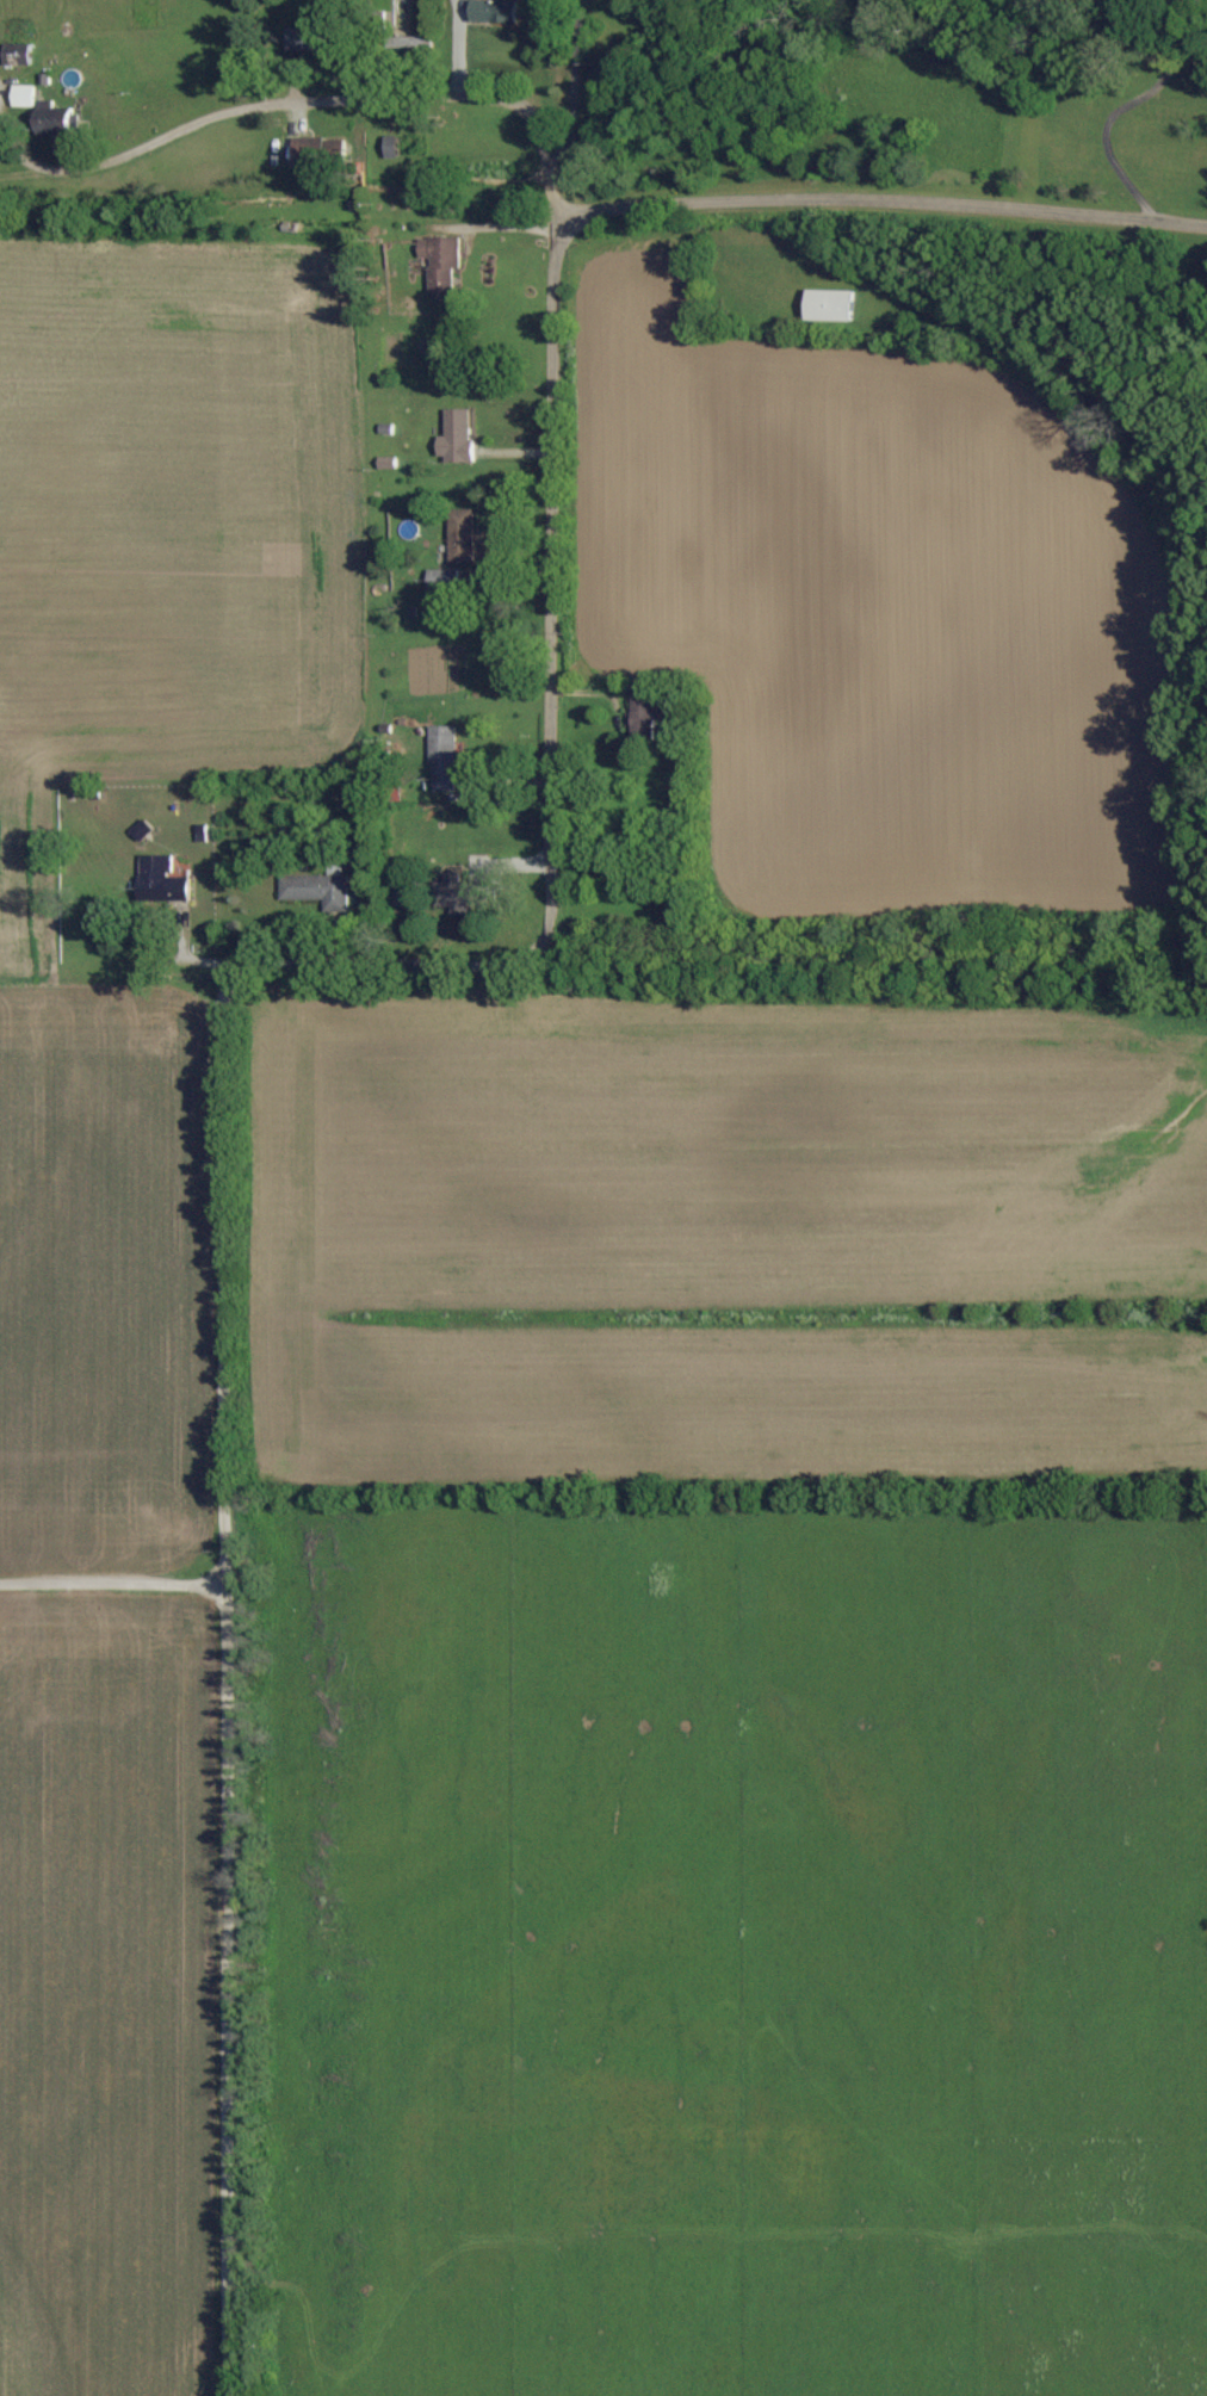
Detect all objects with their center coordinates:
building: (491, 11)
building: (304, 39)
building: (16, 55)
road: (574, 76)
building: (21, 97)
road: (277, 105)
building: (52, 122)
building: (307, 150)
road: (552, 169)
road: (885, 208)
building: (440, 265)
building: (828, 305)
building: (456, 437)
building: (459, 537)
road: (553, 559)
building: (441, 581)
building: (642, 713)
building: (442, 757)
building: (160, 881)
building: (318, 889)
building: (398, 893)
building: (457, 894)
road: (396, 961)
road: (111, 1596)
road: (221, 1690)

